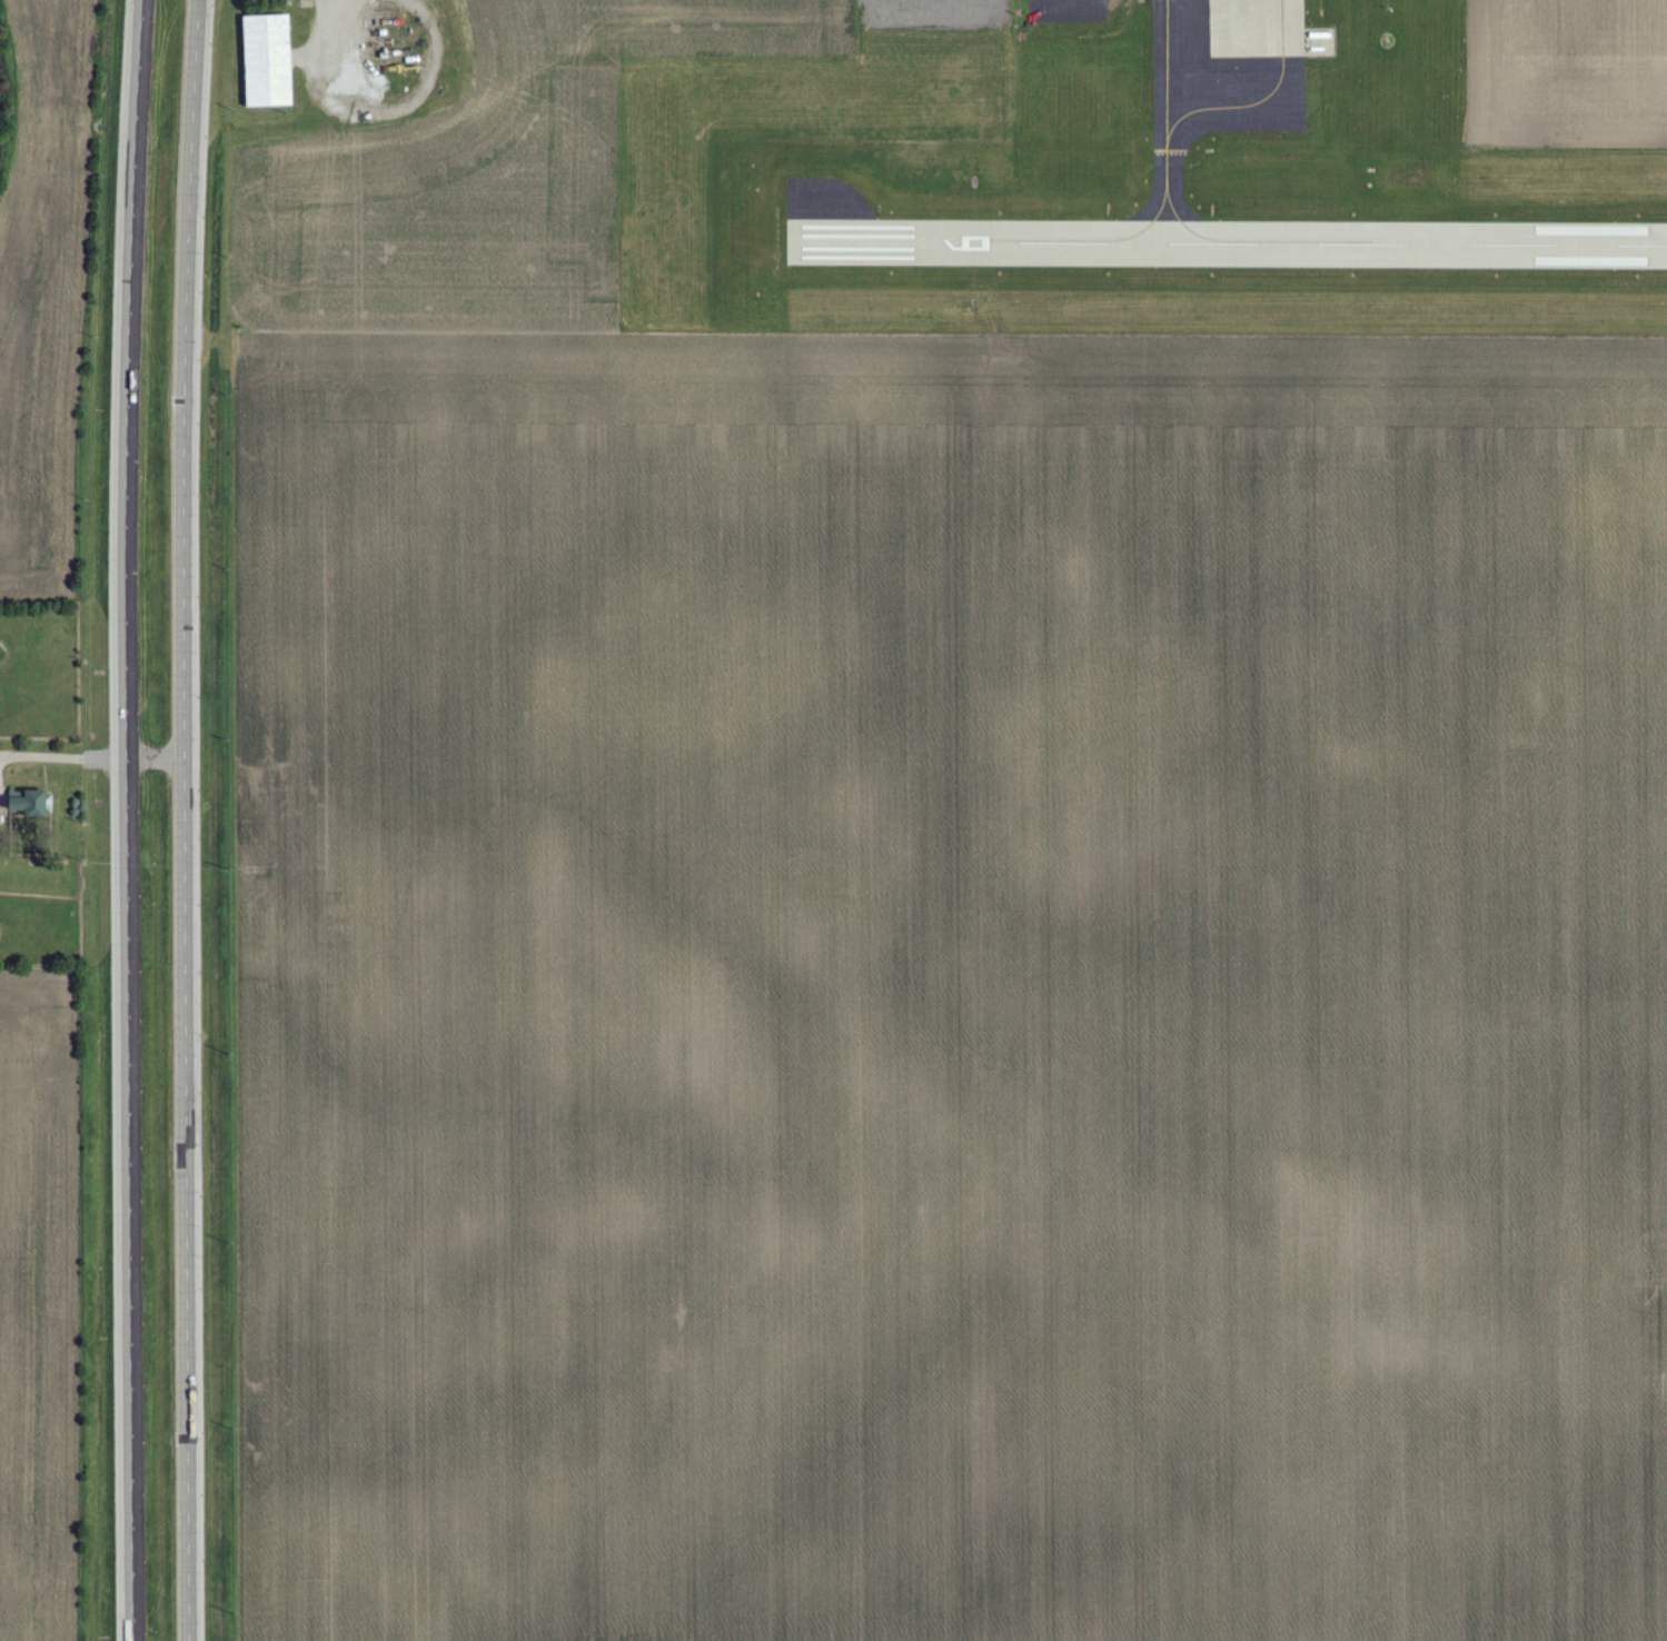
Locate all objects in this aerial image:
road: (1035, 4)
road: (327, 33)
building: (267, 60)
airport taxiway: (1260, 101)
airport taxiway: (1167, 138)
crop: (482, 177)
airport: (1110, 181)
airport taxiway: (1094, 240)
airport runway: (1415, 242)
crop: (47, 292)
road: (92, 757)
building: (30, 803)
road: (125, 819)
road: (185, 819)

